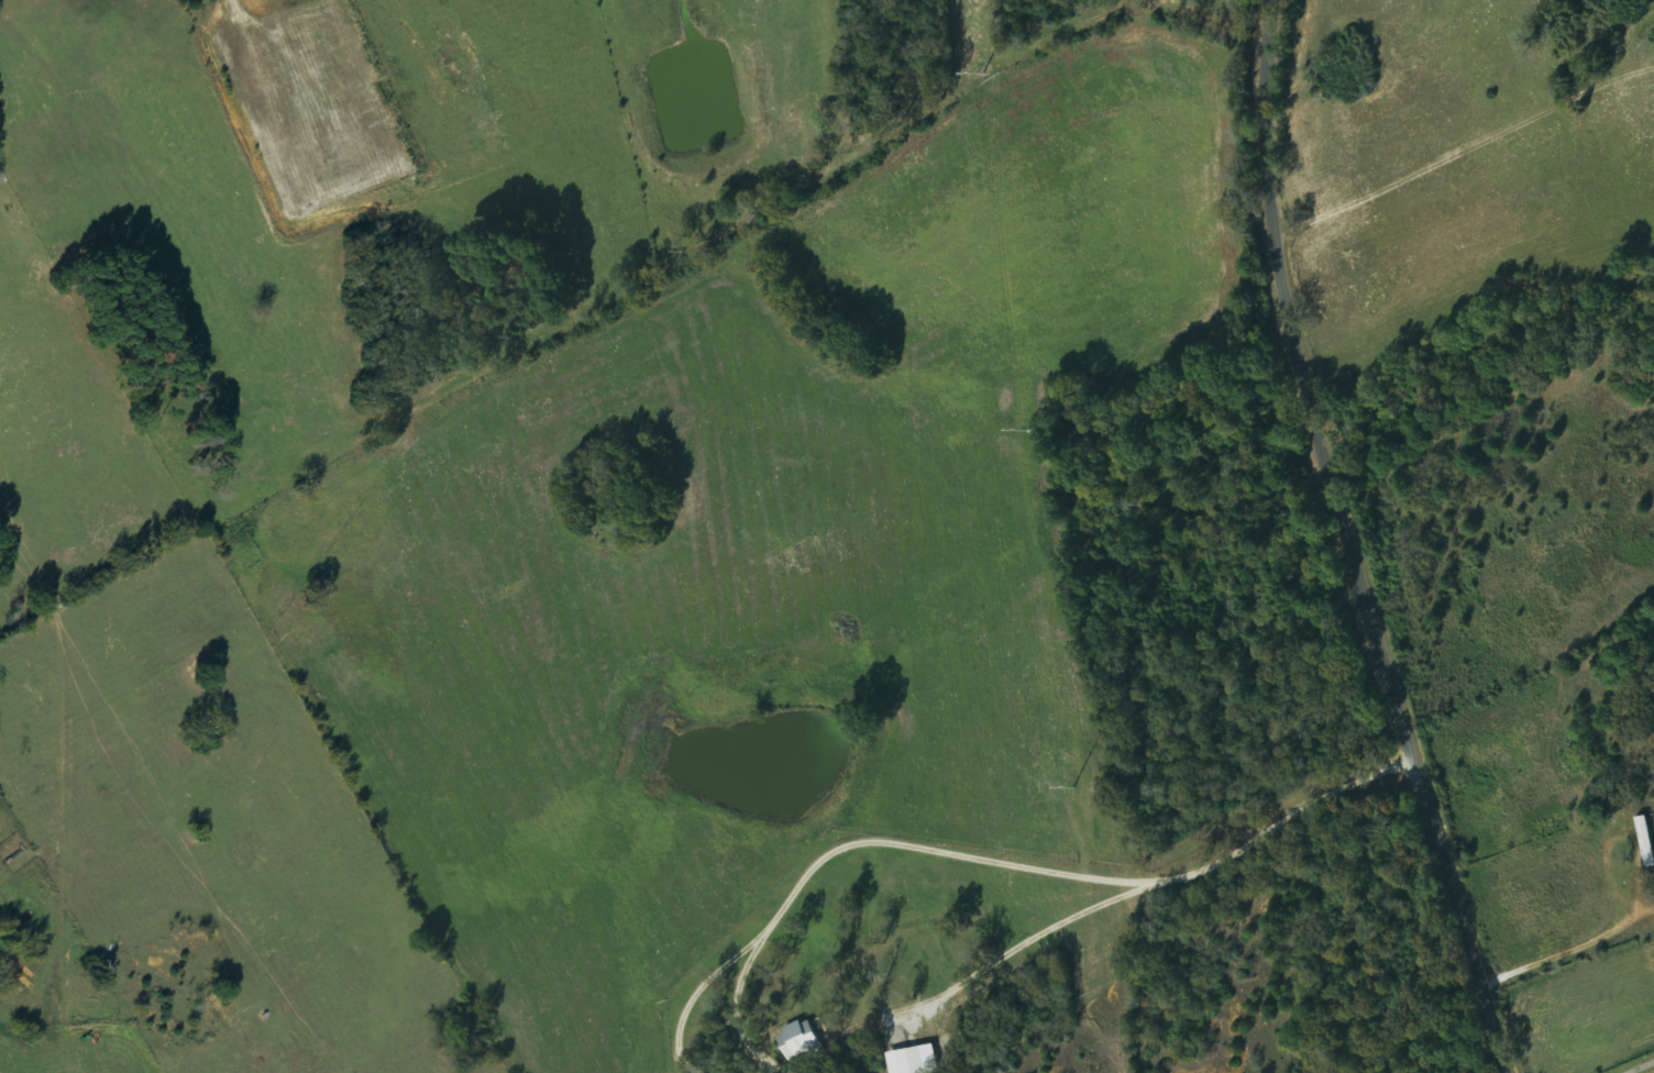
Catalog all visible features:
road: (242, 14)
power tower: (981, 71)
road: (1463, 153)
road: (339, 190)
power tower: (1026, 429)
road: (1355, 540)
power tower: (1071, 786)
building: (1646, 840)
building: (802, 1040)
building: (915, 1060)

